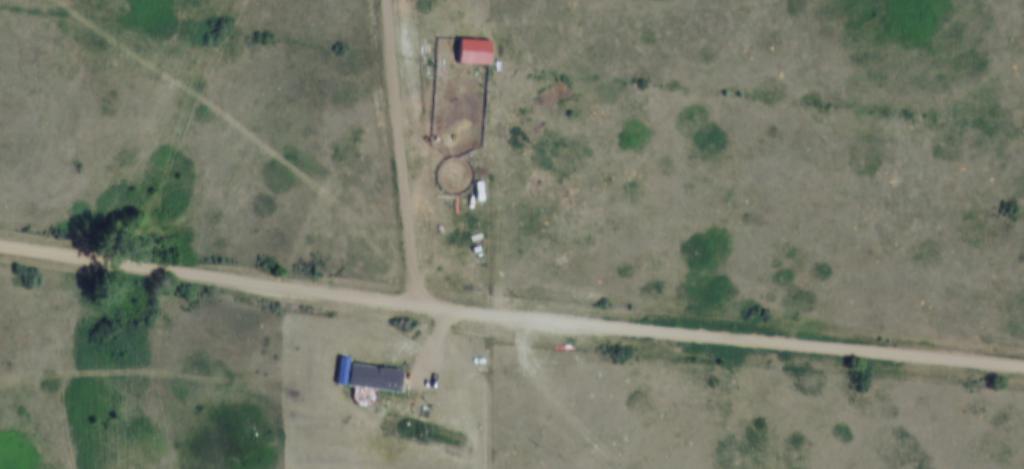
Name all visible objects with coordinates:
building: (468, 32)
road: (404, 153)
road: (505, 157)
road: (510, 318)
road: (439, 344)
building: (379, 370)

